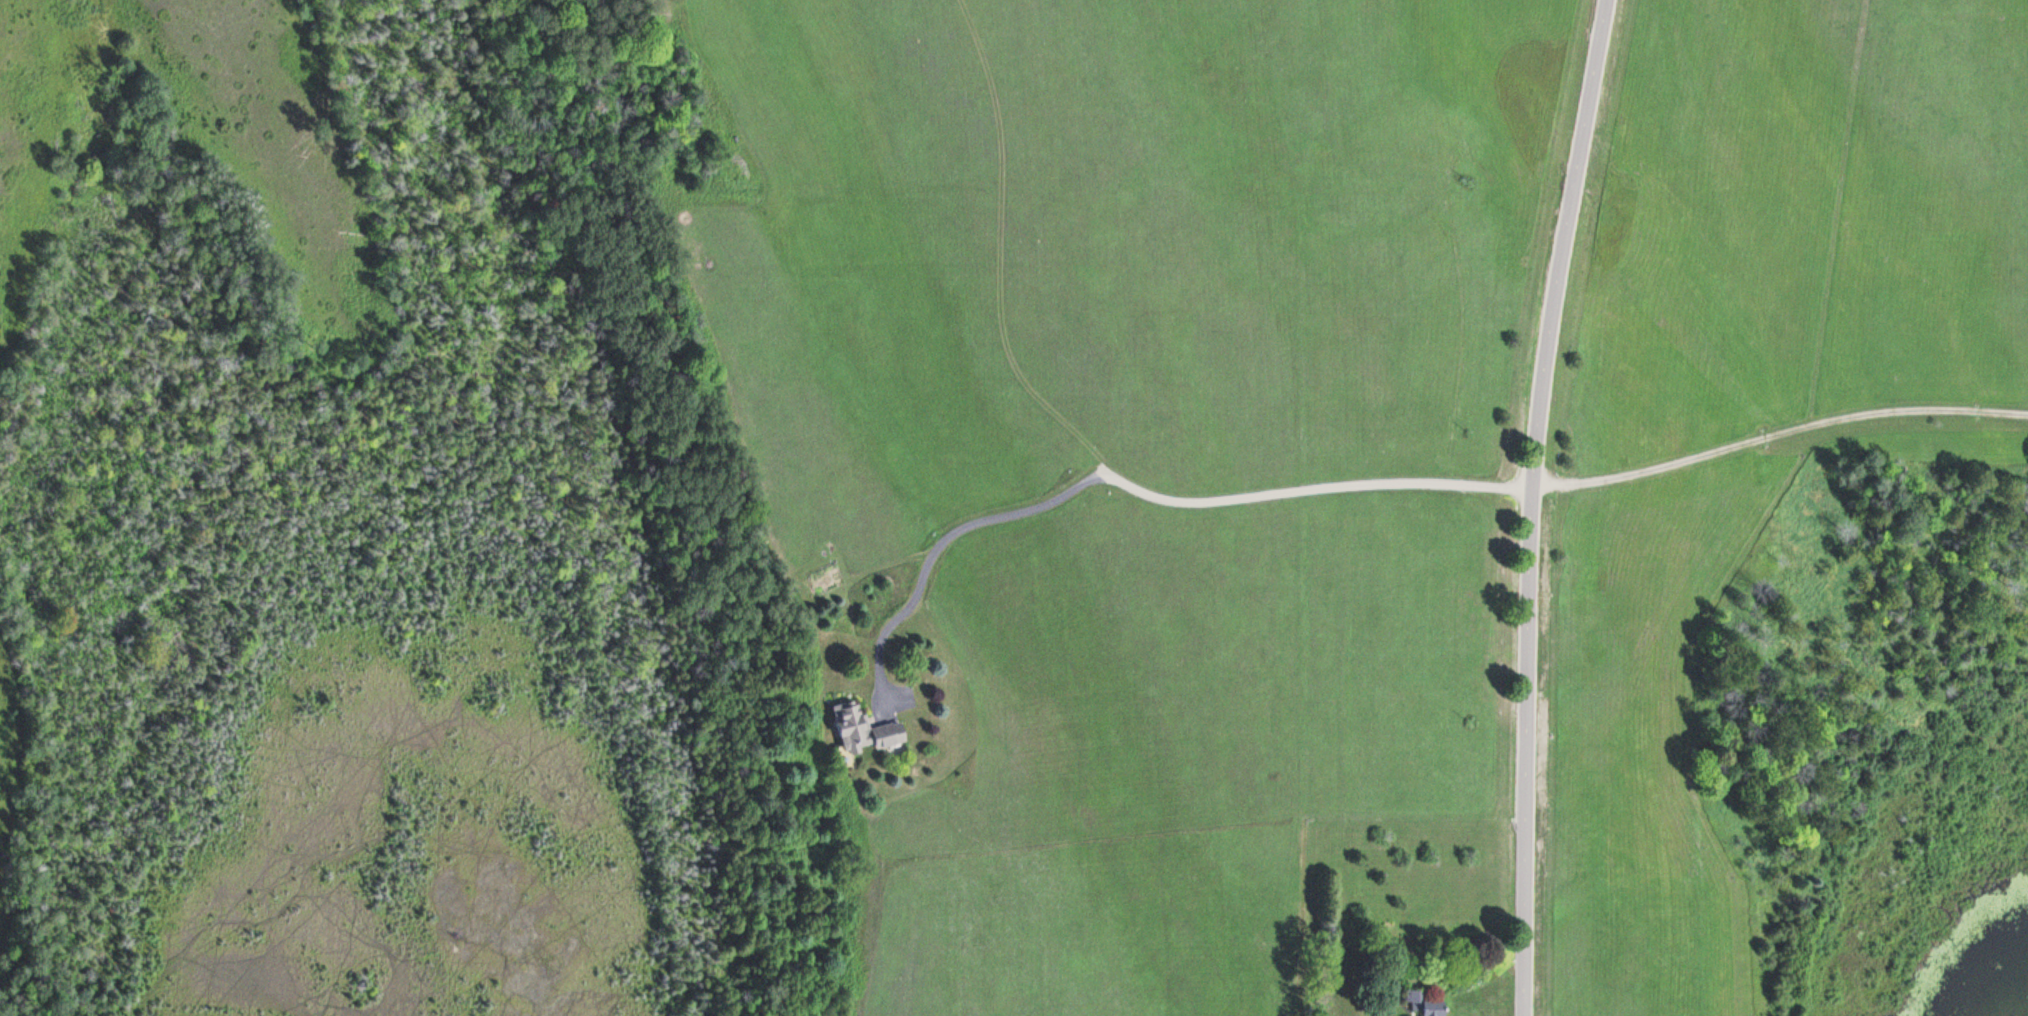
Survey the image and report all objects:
road: (1309, 490)
road: (1527, 504)
building: (864, 730)
building: (1425, 1005)

